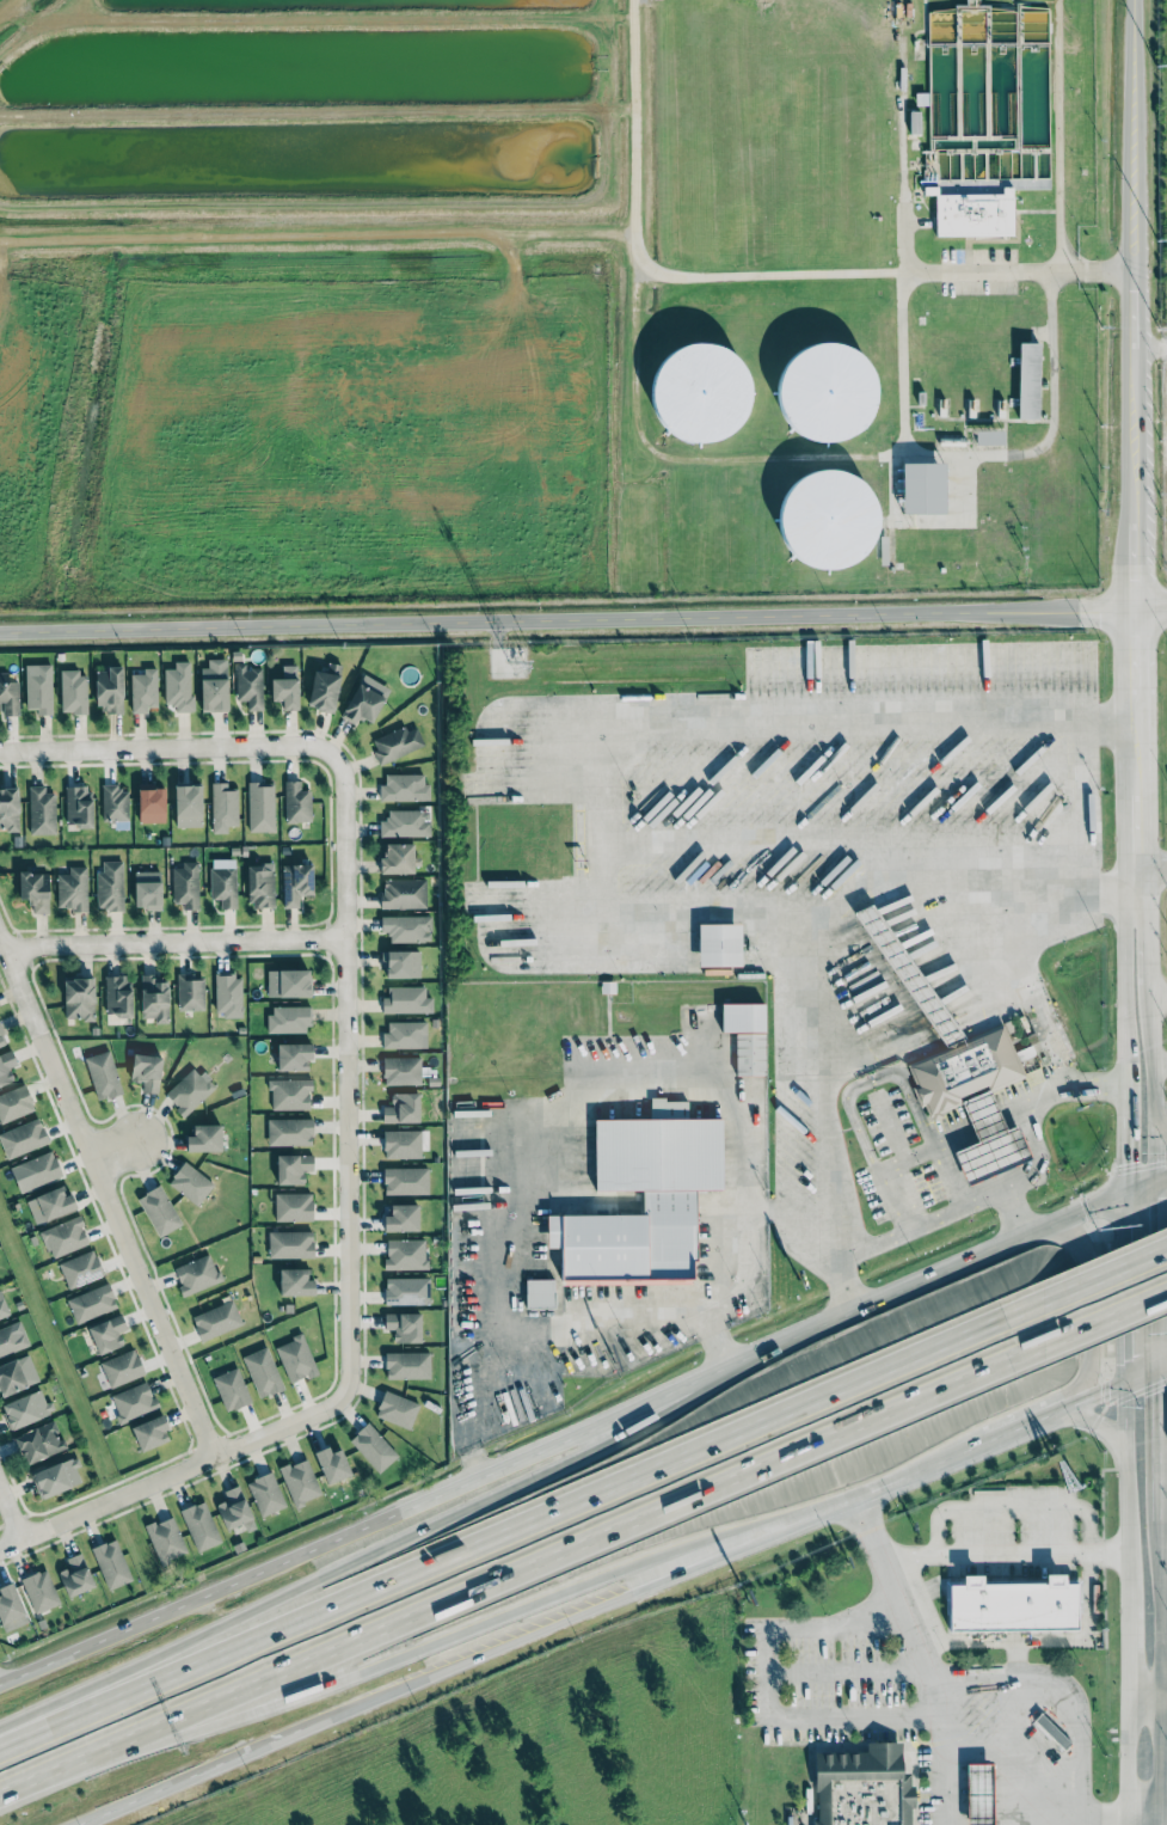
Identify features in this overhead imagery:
road: (7, 6)
road: (1057, 135)
building: (973, 214)
road: (314, 233)
road: (1130, 243)
road: (909, 262)
road: (904, 268)
road: (726, 276)
road: (1148, 348)
building: (1027, 379)
building: (700, 392)
storage tank: (700, 392)
building: (827, 392)
storage tank: (827, 392)
road: (1050, 428)
building: (988, 435)
power substation: (1163, 443)
road: (678, 458)
building: (921, 488)
road: (969, 503)
building: (828, 519)
storage tank: (828, 519)
road: (1131, 547)
road: (1122, 611)
road: (538, 619)
road: (1132, 665)
building: (214, 685)
building: (178, 686)
building: (248, 686)
building: (37, 687)
building: (285, 687)
building: (324, 687)
building: (109, 690)
building: (142, 690)
building: (73, 691)
building: (8, 696)
building: (364, 699)
building: (397, 743)
road: (170, 746)
building: (404, 788)
road: (1134, 795)
building: (113, 802)
building: (296, 802)
building: (151, 803)
building: (78, 806)
building: (186, 806)
building: (260, 806)
building: (223, 807)
building: (8, 809)
building: (41, 810)
building: (1054, 814)
building: (405, 822)
road: (603, 844)
road: (915, 844)
building: (397, 858)
road: (1151, 870)
building: (223, 881)
building: (295, 882)
road: (1136, 883)
building: (185, 884)
building: (260, 884)
building: (109, 886)
building: (72, 888)
building: (147, 889)
building: (32, 890)
building: (403, 893)
road: (1106, 895)
road: (1011, 919)
building: (406, 927)
road: (1147, 938)
road: (177, 943)
building: (718, 944)
building: (400, 963)
road: (903, 967)
building: (908, 974)
gas station: (908, 974)
road: (1125, 978)
building: (287, 982)
building: (190, 992)
building: (227, 994)
building: (117, 996)
building: (153, 997)
building: (78, 998)
building: (405, 999)
building: (288, 1018)
building: (404, 1034)
building: (745, 1034)
building: (1, 1040)
building: (293, 1055)
road: (1157, 1061)
building: (6, 1065)
building: (400, 1070)
building: (146, 1071)
building: (963, 1071)
building: (103, 1074)
road: (350, 1076)
road: (1151, 1079)
building: (189, 1090)
building: (289, 1094)
road: (714, 1098)
building: (14, 1102)
building: (401, 1108)
road: (1160, 1122)
road: (1128, 1126)
building: (288, 1132)
building: (22, 1138)
building: (203, 1138)
building: (987, 1141)
gas station: (987, 1141)
building: (404, 1143)
road: (117, 1150)
traffic signals: (1128, 1163)
building: (291, 1168)
building: (35, 1171)
building: (405, 1180)
building: (190, 1182)
road: (994, 1193)
road: (105, 1194)
building: (641, 1199)
traffic signals: (1161, 1200)
building: (49, 1204)
building: (293, 1206)
building: (158, 1211)
road: (1012, 1213)
building: (400, 1217)
building: (63, 1237)
building: (289, 1244)
building: (405, 1254)
building: (80, 1269)
road: (1161, 1270)
building: (196, 1274)
road: (1104, 1274)
building: (294, 1281)
road: (1128, 1284)
building: (406, 1291)
building: (539, 1293)
building: (91, 1303)
building: (2, 1306)
road: (510, 1307)
road: (627, 1312)
road: (1105, 1313)
road: (1091, 1316)
building: (215, 1319)
building: (403, 1325)
building: (106, 1333)
building: (12, 1337)
traffic signals: (1129, 1356)
building: (295, 1358)
building: (406, 1365)
building: (121, 1367)
building: (262, 1371)
building: (16, 1373)
road: (1108, 1386)
building: (231, 1389)
traffic signals: (1100, 1391)
traffic signals: (1162, 1391)
building: (133, 1401)
building: (25, 1408)
building: (397, 1409)
road: (1162, 1420)
road: (1100, 1421)
road: (1018, 1427)
road: (583, 1429)
building: (149, 1432)
building: (37, 1441)
building: (371, 1447)
road: (951, 1456)
building: (331, 1463)
road: (1128, 1468)
road: (170, 1475)
road: (1165, 1475)
building: (56, 1477)
building: (299, 1481)
building: (265, 1493)
road: (1014, 1507)
building: (234, 1508)
road: (1162, 1517)
road: (10, 1519)
road: (520, 1524)
building: (199, 1525)
building: (165, 1539)
road: (573, 1544)
road: (387, 1547)
road: (1003, 1555)
road: (1165, 1560)
building: (111, 1563)
building: (75, 1575)
road: (647, 1585)
building: (38, 1591)
building: (1012, 1603)
road: (510, 1606)
building: (10, 1607)
road: (1130, 1627)
road: (1008, 1641)
road: (841, 1671)
road: (1160, 1683)
road: (764, 1692)
road: (1144, 1696)
road: (1163, 1696)
road: (932, 1702)
road: (1074, 1717)
building: (1051, 1732)
road: (1130, 1750)
road: (226, 1760)
road: (53, 1769)
road: (945, 1781)
building: (859, 1787)
building: (977, 1793)
gas station: (977, 1793)
road: (1144, 1813)
road: (1050, 1823)

